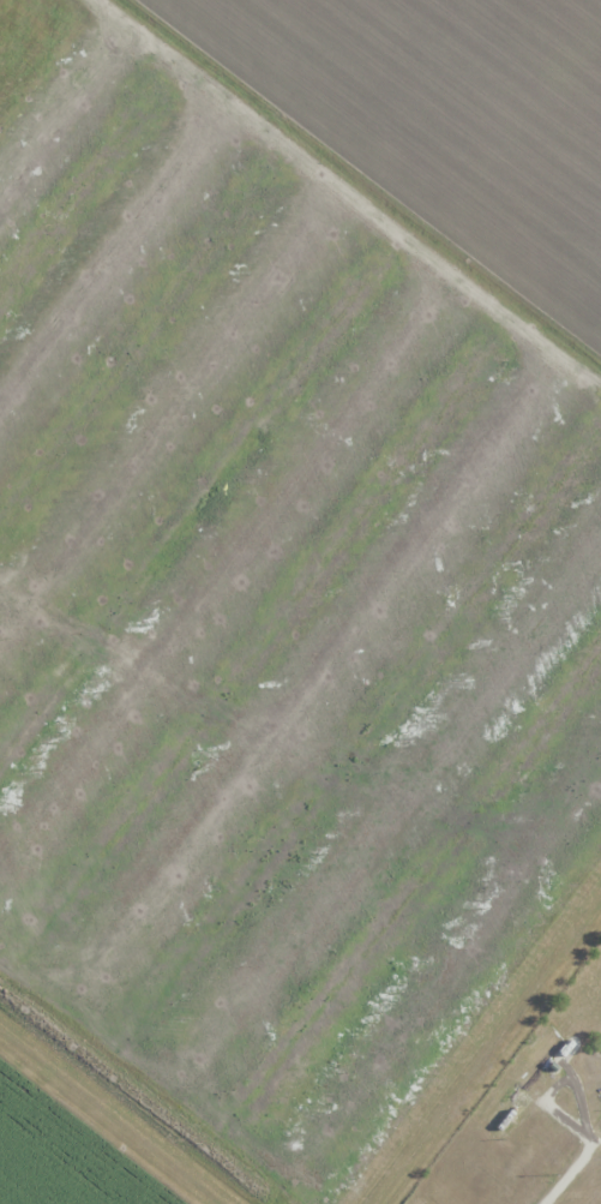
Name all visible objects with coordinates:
road: (587, 1157)

